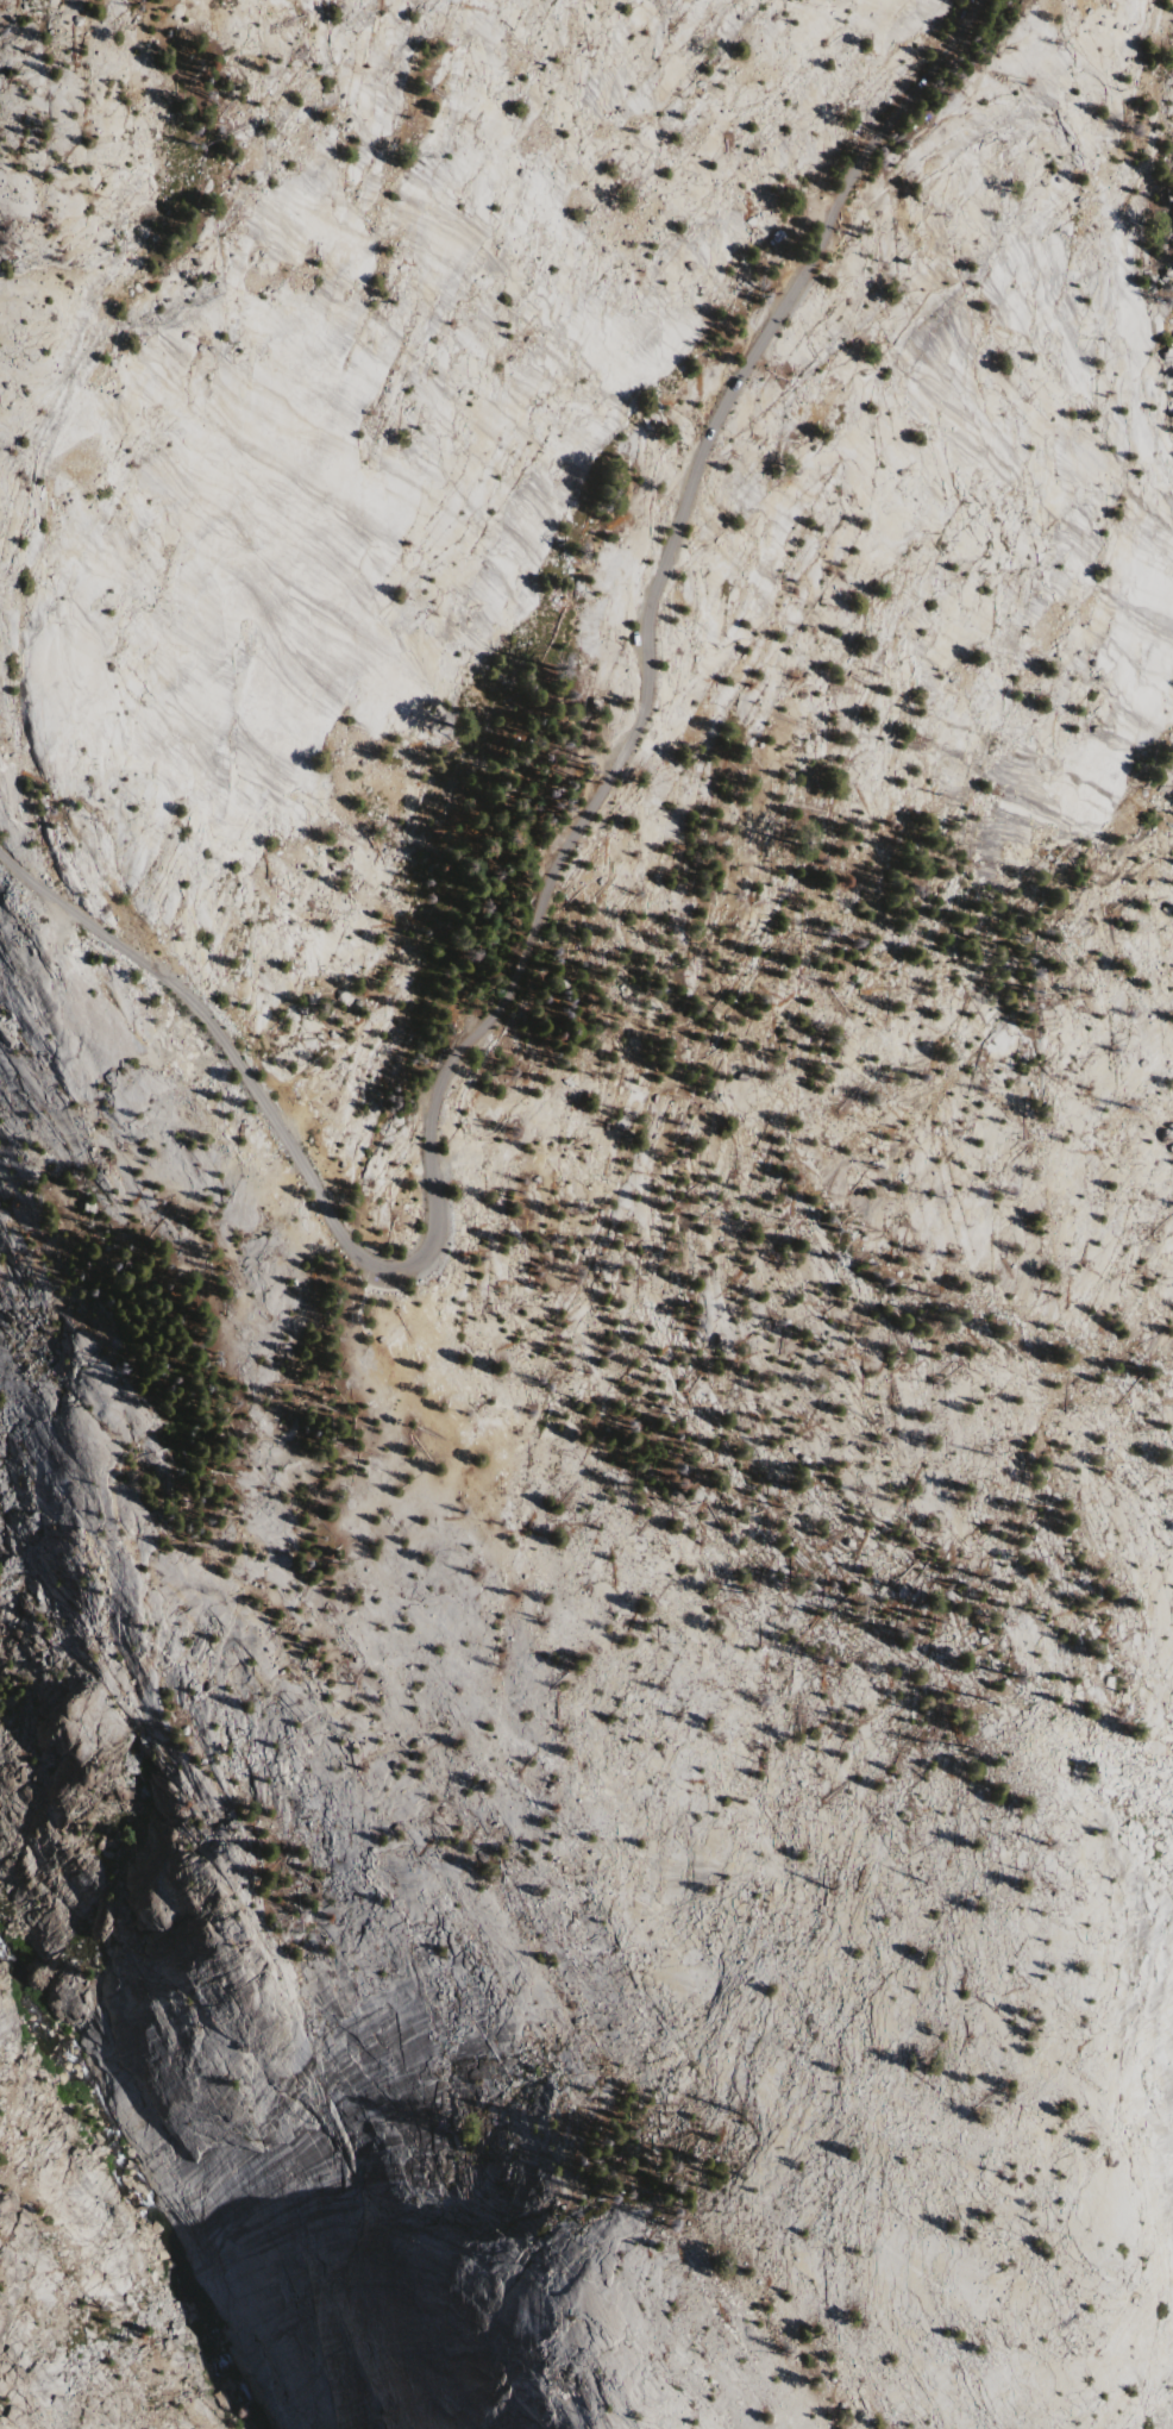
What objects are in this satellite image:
road: (552, 881)

